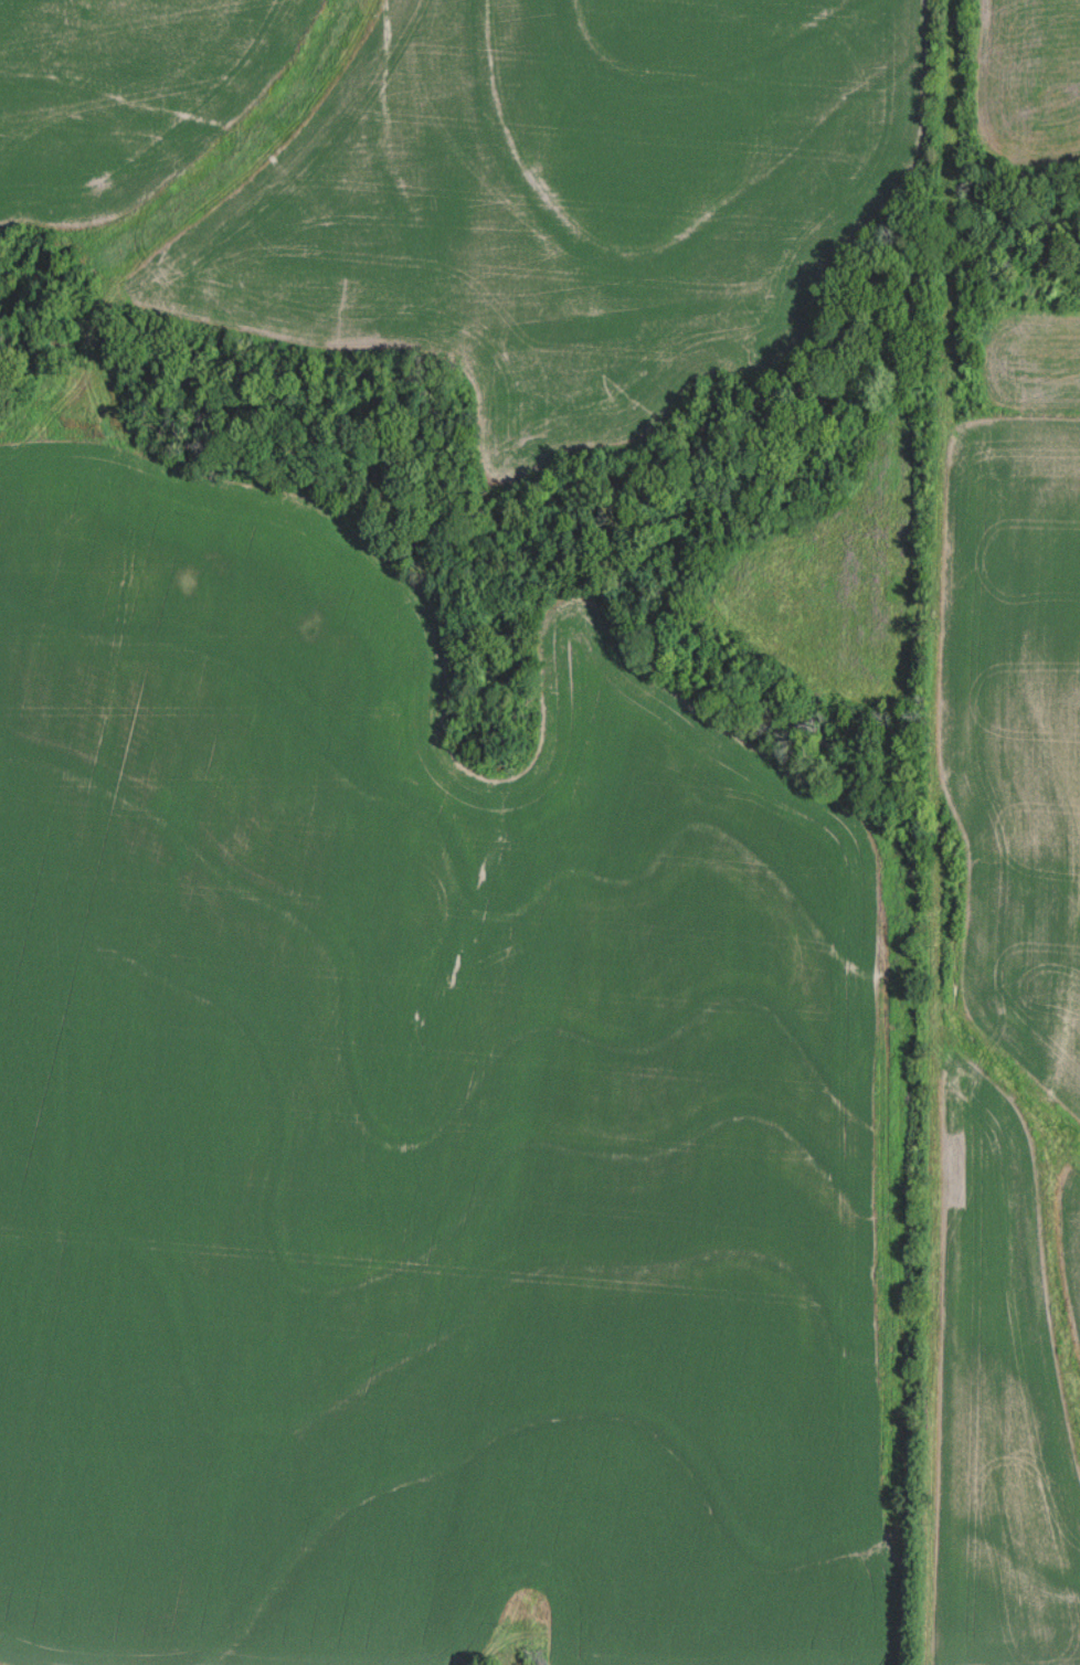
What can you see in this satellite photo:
road: (941, 832)

